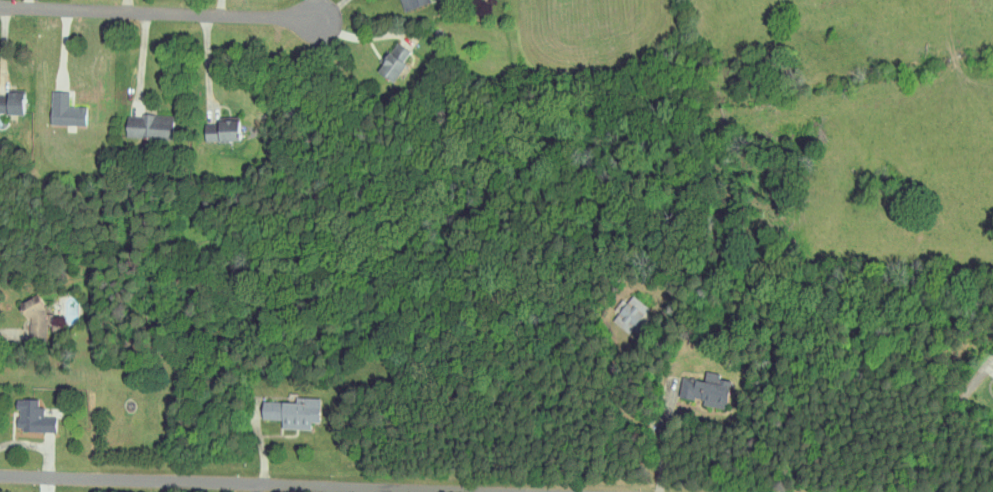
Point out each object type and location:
building: (411, 3)
road: (26, 6)
road: (126, 7)
road: (223, 9)
road: (316, 9)
road: (331, 9)
road: (158, 15)
road: (365, 37)
road: (7, 40)
road: (63, 44)
road: (141, 57)
building: (392, 61)
road: (209, 65)
building: (12, 103)
building: (64, 110)
building: (149, 126)
building: (222, 131)
building: (629, 313)
road: (16, 316)
building: (37, 320)
building: (704, 389)
building: (290, 413)
building: (30, 417)
road: (664, 438)
road: (932, 460)
road: (41, 463)
road: (258, 463)
road: (254, 484)
road: (344, 490)
road: (479, 491)

